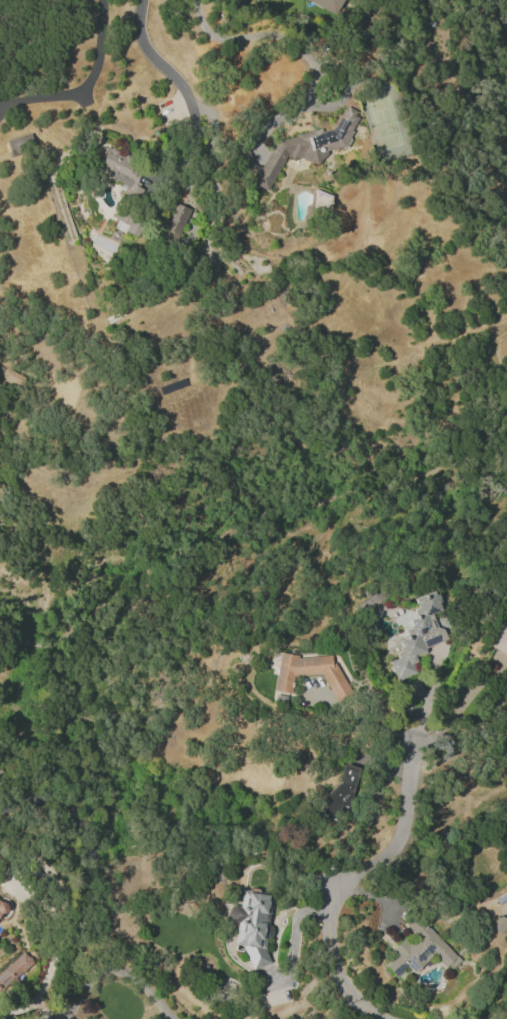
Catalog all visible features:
building: (326, 4)
road: (289, 37)
road: (158, 62)
road: (83, 84)
building: (20, 144)
building: (296, 153)
building: (120, 171)
building: (175, 223)
building: (128, 224)
road: (504, 438)
road: (291, 512)
building: (369, 599)
building: (418, 634)
building: (500, 635)
building: (309, 673)
road: (457, 706)
road: (356, 719)
road: (417, 722)
building: (340, 794)
road: (395, 833)
building: (2, 906)
building: (251, 925)
road: (57, 945)
building: (419, 948)
road: (334, 965)
building: (14, 969)
road: (117, 970)

